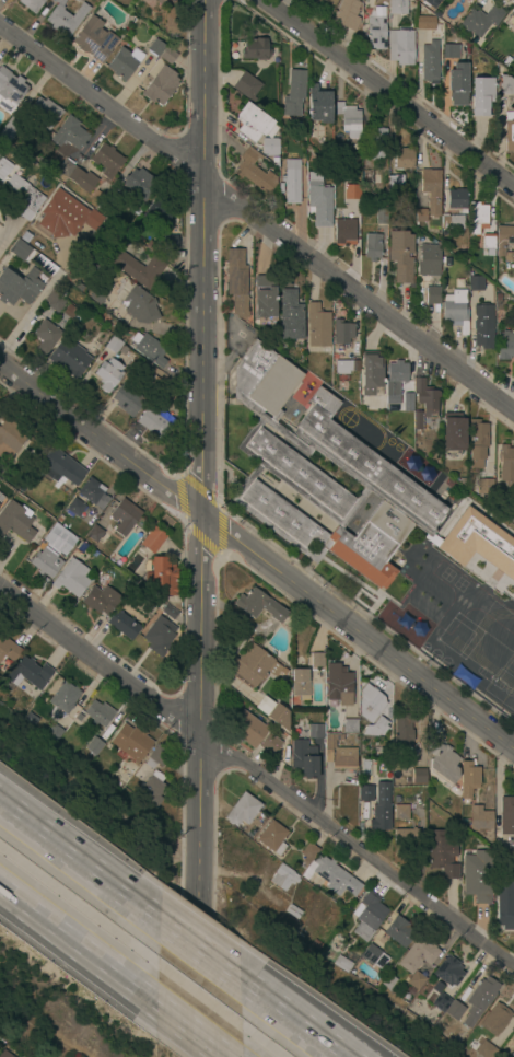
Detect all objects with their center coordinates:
building: (75, 0)
building: (162, 0)
building: (472, 0)
building: (431, 2)
building: (31, 4)
building: (397, 7)
building: (347, 14)
building: (65, 18)
building: (480, 20)
building: (511, 20)
building: (172, 21)
building: (424, 22)
building: (376, 28)
building: (95, 40)
building: (155, 47)
building: (401, 47)
building: (256, 50)
building: (451, 53)
building: (168, 55)
building: (429, 62)
building: (124, 63)
building: (160, 85)
building: (459, 85)
building: (246, 86)
building: (506, 86)
building: (10, 92)
building: (294, 94)
road: (388, 94)
building: (482, 96)
road: (98, 97)
building: (319, 105)
building: (45, 114)
building: (349, 119)
building: (254, 124)
building: (9, 129)
building: (510, 131)
building: (69, 133)
building: (375, 142)
building: (269, 148)
building: (339, 148)
building: (106, 158)
building: (405, 159)
building: (4, 167)
building: (63, 169)
building: (255, 172)
building: (365, 177)
building: (83, 181)
building: (292, 182)
building: (395, 184)
building: (140, 185)
building: (281, 188)
building: (352, 189)
building: (431, 190)
building: (25, 196)
building: (457, 199)
building: (318, 201)
building: (159, 211)
building: (337, 212)
building: (65, 214)
building: (420, 216)
building: (381, 217)
building: (478, 218)
building: (452, 223)
building: (344, 232)
road: (7, 237)
building: (488, 242)
building: (171, 243)
building: (504, 243)
building: (372, 247)
building: (20, 249)
building: (400, 257)
building: (429, 262)
building: (444, 264)
building: (46, 266)
building: (138, 269)
building: (68, 277)
building: (237, 281)
building: (476, 283)
building: (19, 287)
building: (80, 288)
building: (432, 293)
building: (100, 294)
building: (264, 297)
road: (359, 298)
building: (498, 298)
building: (54, 301)
building: (137, 303)
building: (68, 311)
building: (456, 311)
building: (291, 316)
building: (318, 326)
building: (483, 326)
building: (342, 333)
building: (46, 337)
building: (113, 344)
building: (504, 346)
building: (149, 349)
building: (69, 359)
building: (352, 367)
building: (340, 368)
building: (513, 372)
building: (108, 374)
building: (371, 374)
building: (395, 381)
building: (128, 399)
building: (423, 402)
building: (408, 403)
building: (154, 421)
building: (453, 432)
building: (10, 437)
building: (477, 443)
building: (59, 468)
building: (507, 473)
building: (322, 474)
road: (179, 476)
building: (484, 487)
building: (93, 493)
building: (468, 496)
building: (1, 500)
building: (75, 508)
building: (122, 518)
building: (59, 519)
building: (15, 521)
road: (199, 527)
building: (93, 533)
building: (152, 538)
building: (478, 544)
building: (81, 548)
road: (217, 550)
building: (51, 554)
road: (256, 556)
building: (163, 573)
building: (72, 579)
building: (100, 600)
building: (259, 605)
building: (122, 625)
building: (160, 626)
building: (9, 650)
building: (317, 660)
building: (253, 665)
building: (30, 674)
building: (465, 677)
building: (338, 684)
building: (301, 685)
building: (65, 698)
building: (370, 704)
building: (98, 712)
building: (279, 717)
building: (348, 725)
building: (375, 728)
building: (249, 731)
building: (54, 732)
building: (316, 732)
building: (404, 732)
building: (131, 742)
building: (270, 745)
building: (94, 746)
building: (327, 747)
building: (382, 752)
building: (341, 753)
building: (156, 757)
building: (304, 759)
building: (442, 763)
building: (365, 767)
building: (418, 776)
road: (255, 777)
building: (468, 779)
building: (151, 791)
building: (365, 792)
building: (381, 808)
building: (242, 811)
building: (401, 812)
building: (506, 815)
building: (260, 818)
building: (480, 820)
building: (406, 837)
building: (272, 838)
building: (512, 852)
building: (442, 855)
road: (79, 867)
building: (327, 873)
building: (476, 874)
building: (283, 879)
building: (505, 905)
building: (294, 911)
building: (366, 917)
building: (299, 931)
building: (399, 931)
road: (78, 944)
road: (197, 953)
building: (418, 955)
building: (374, 956)
building: (342, 965)
building: (448, 972)
building: (388, 981)
building: (416, 981)
building: (479, 999)
building: (445, 1003)
road: (288, 1020)
road: (297, 1020)
building: (495, 1020)
road: (191, 1030)
building: (486, 1050)
building: (5, 1054)
building: (512, 1055)

